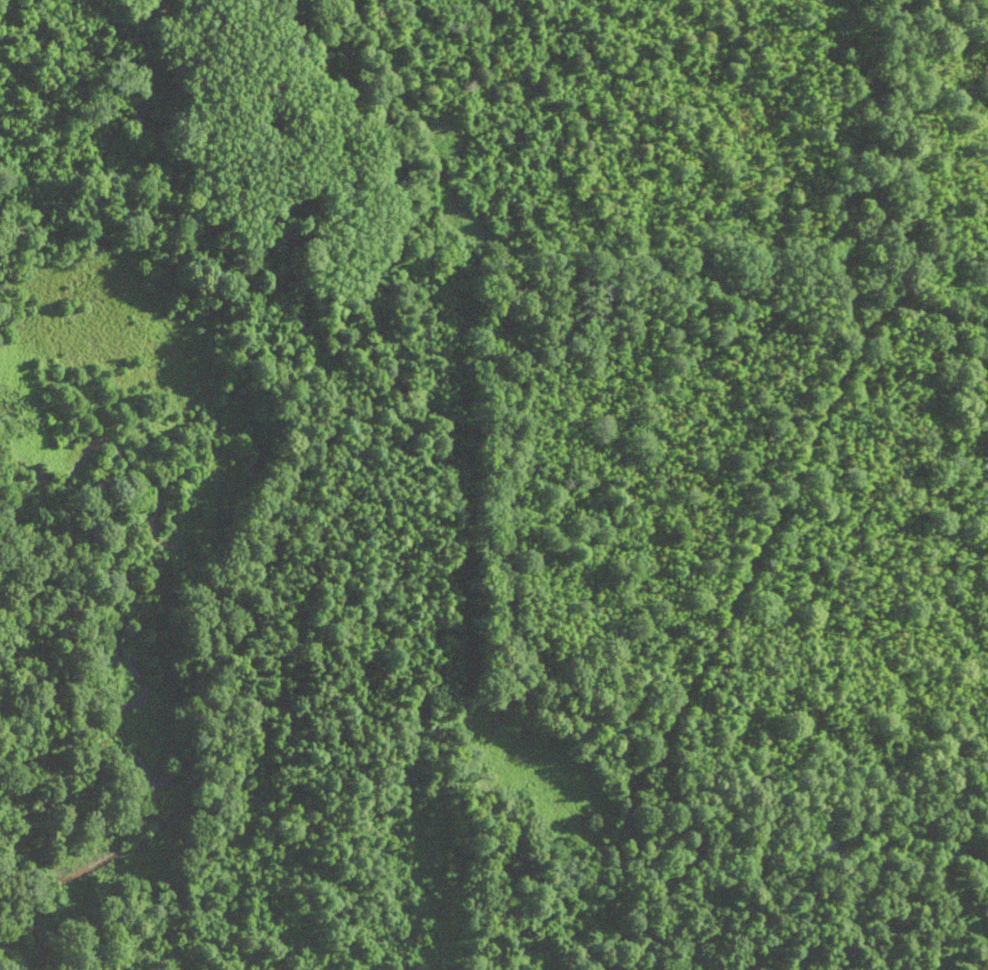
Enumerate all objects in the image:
road: (729, 586)

